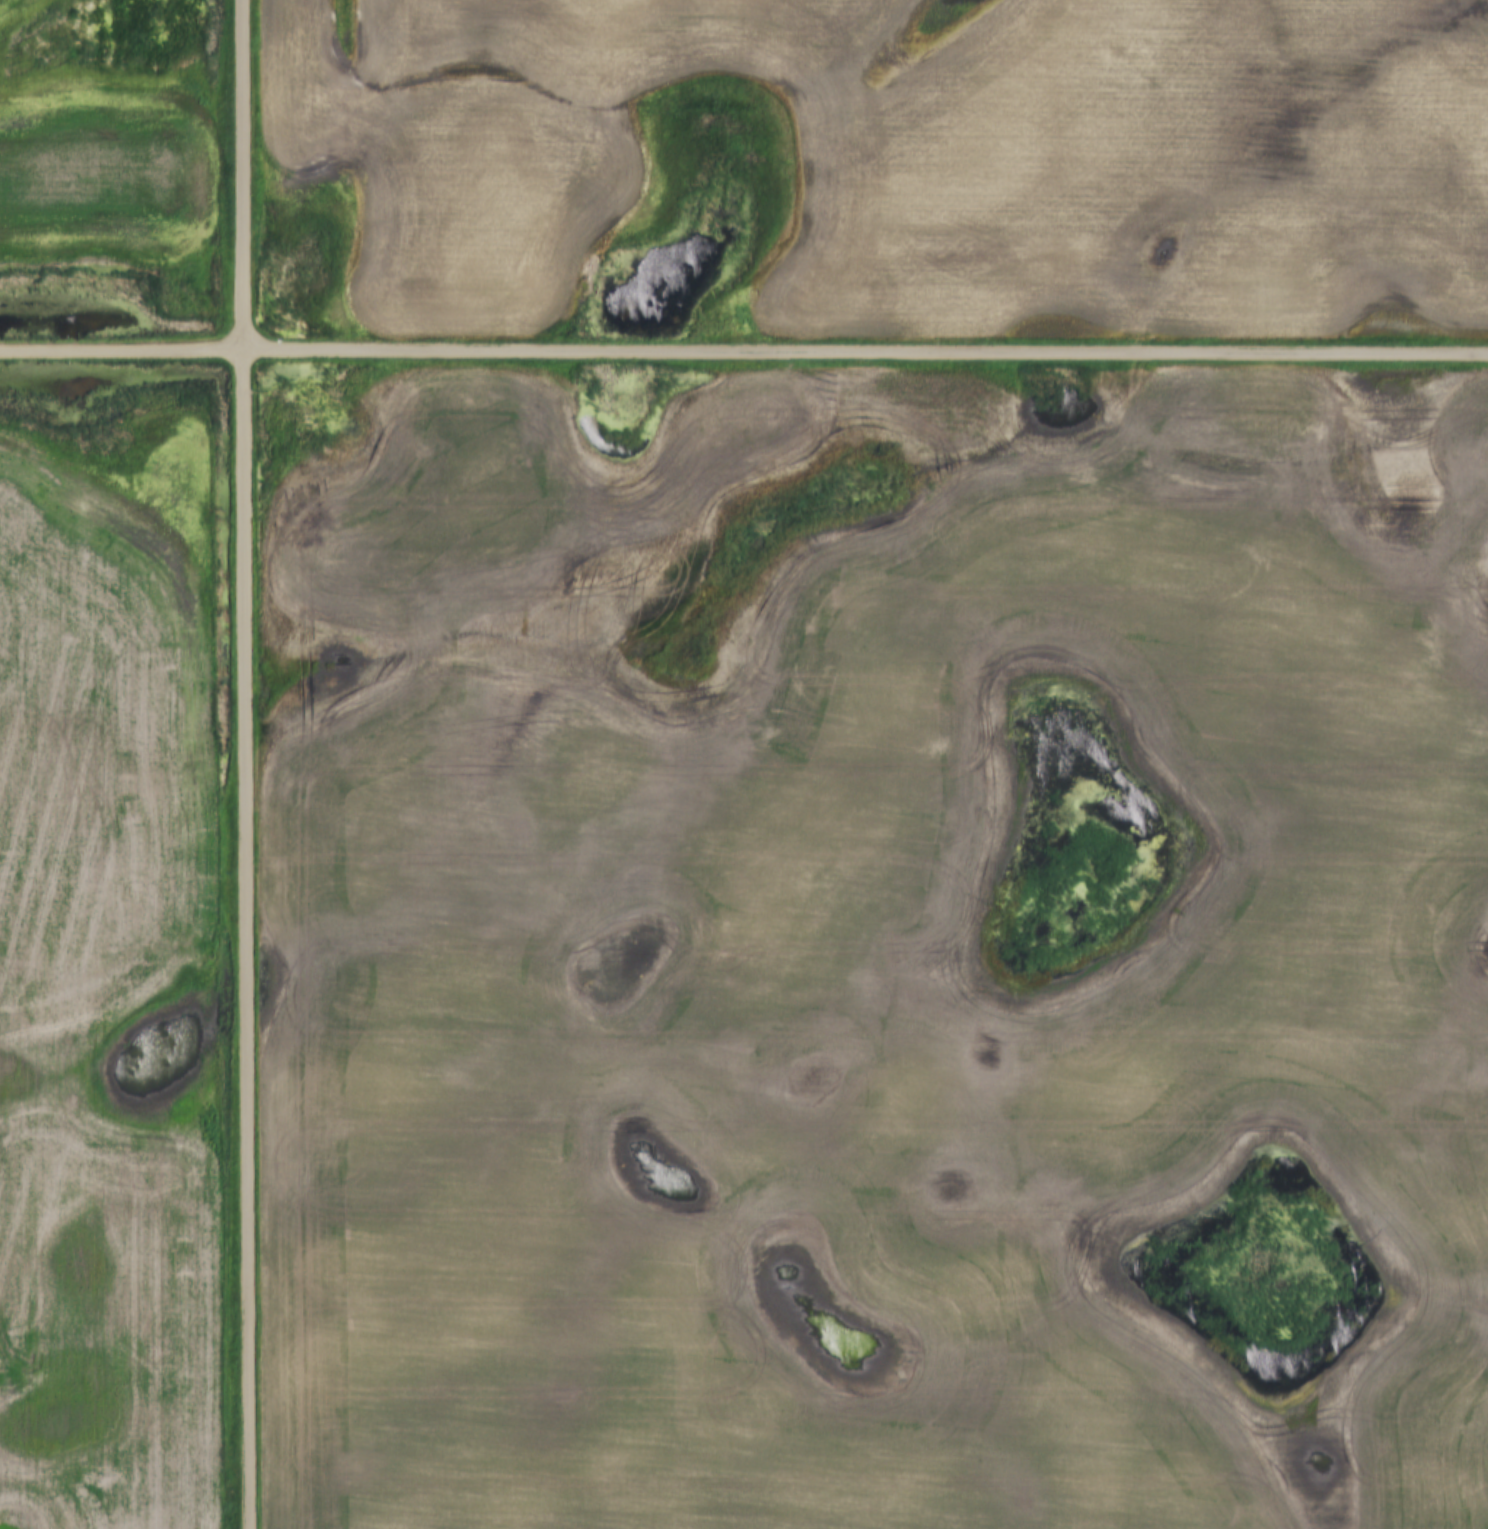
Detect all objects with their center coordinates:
road: (121, 350)
road: (864, 351)
road: (244, 764)

